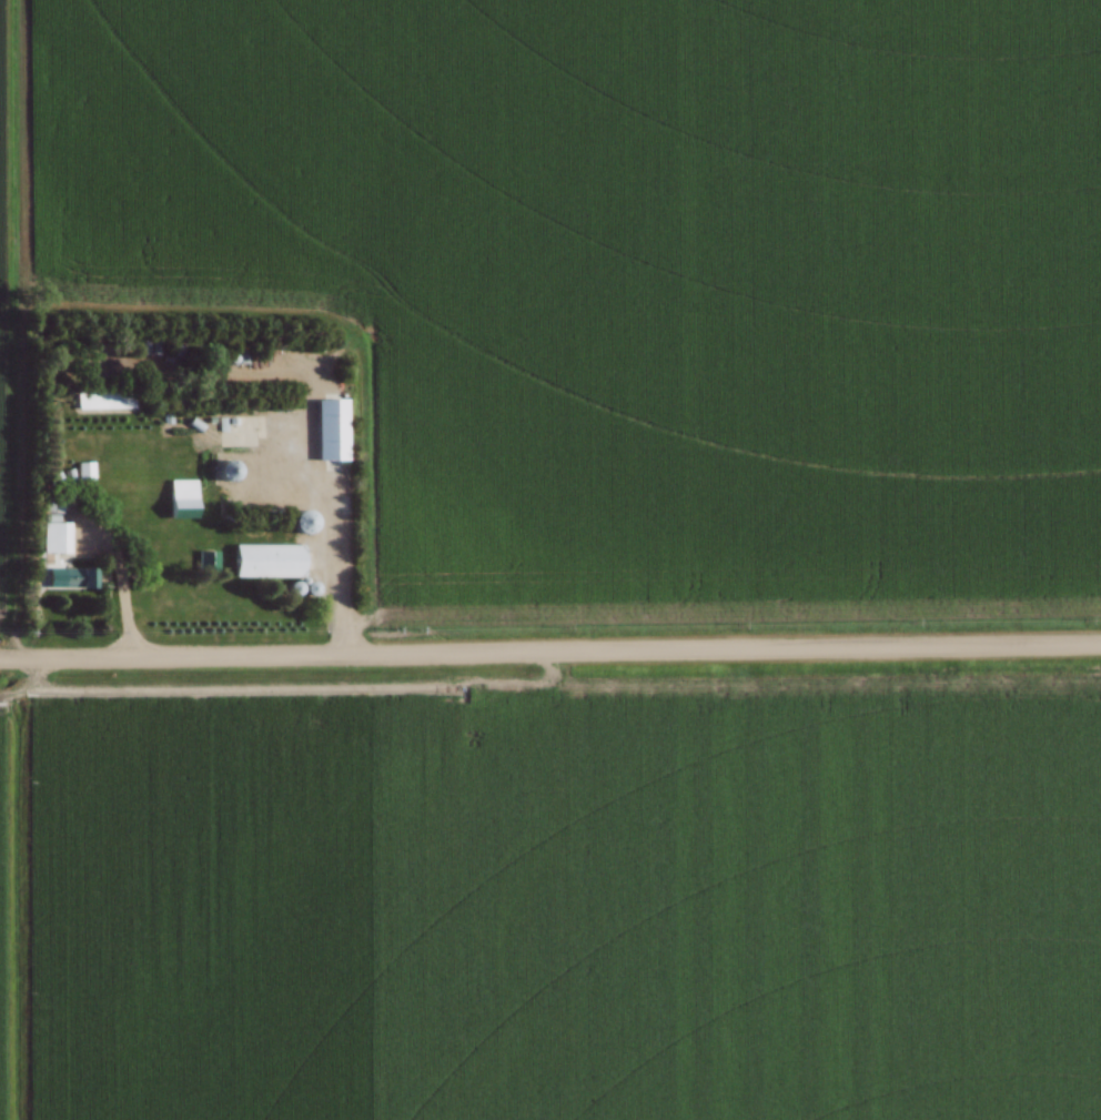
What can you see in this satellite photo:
crop: (620, 274)
building: (105, 401)
building: (250, 477)
building: (182, 497)
silo: (303, 523)
building: (302, 524)
road: (330, 534)
building: (58, 537)
building: (270, 561)
building: (208, 563)
building: (78, 578)
road: (124, 584)
silo: (294, 588)
silo: (311, 588)
road: (549, 653)
crop: (550, 902)

